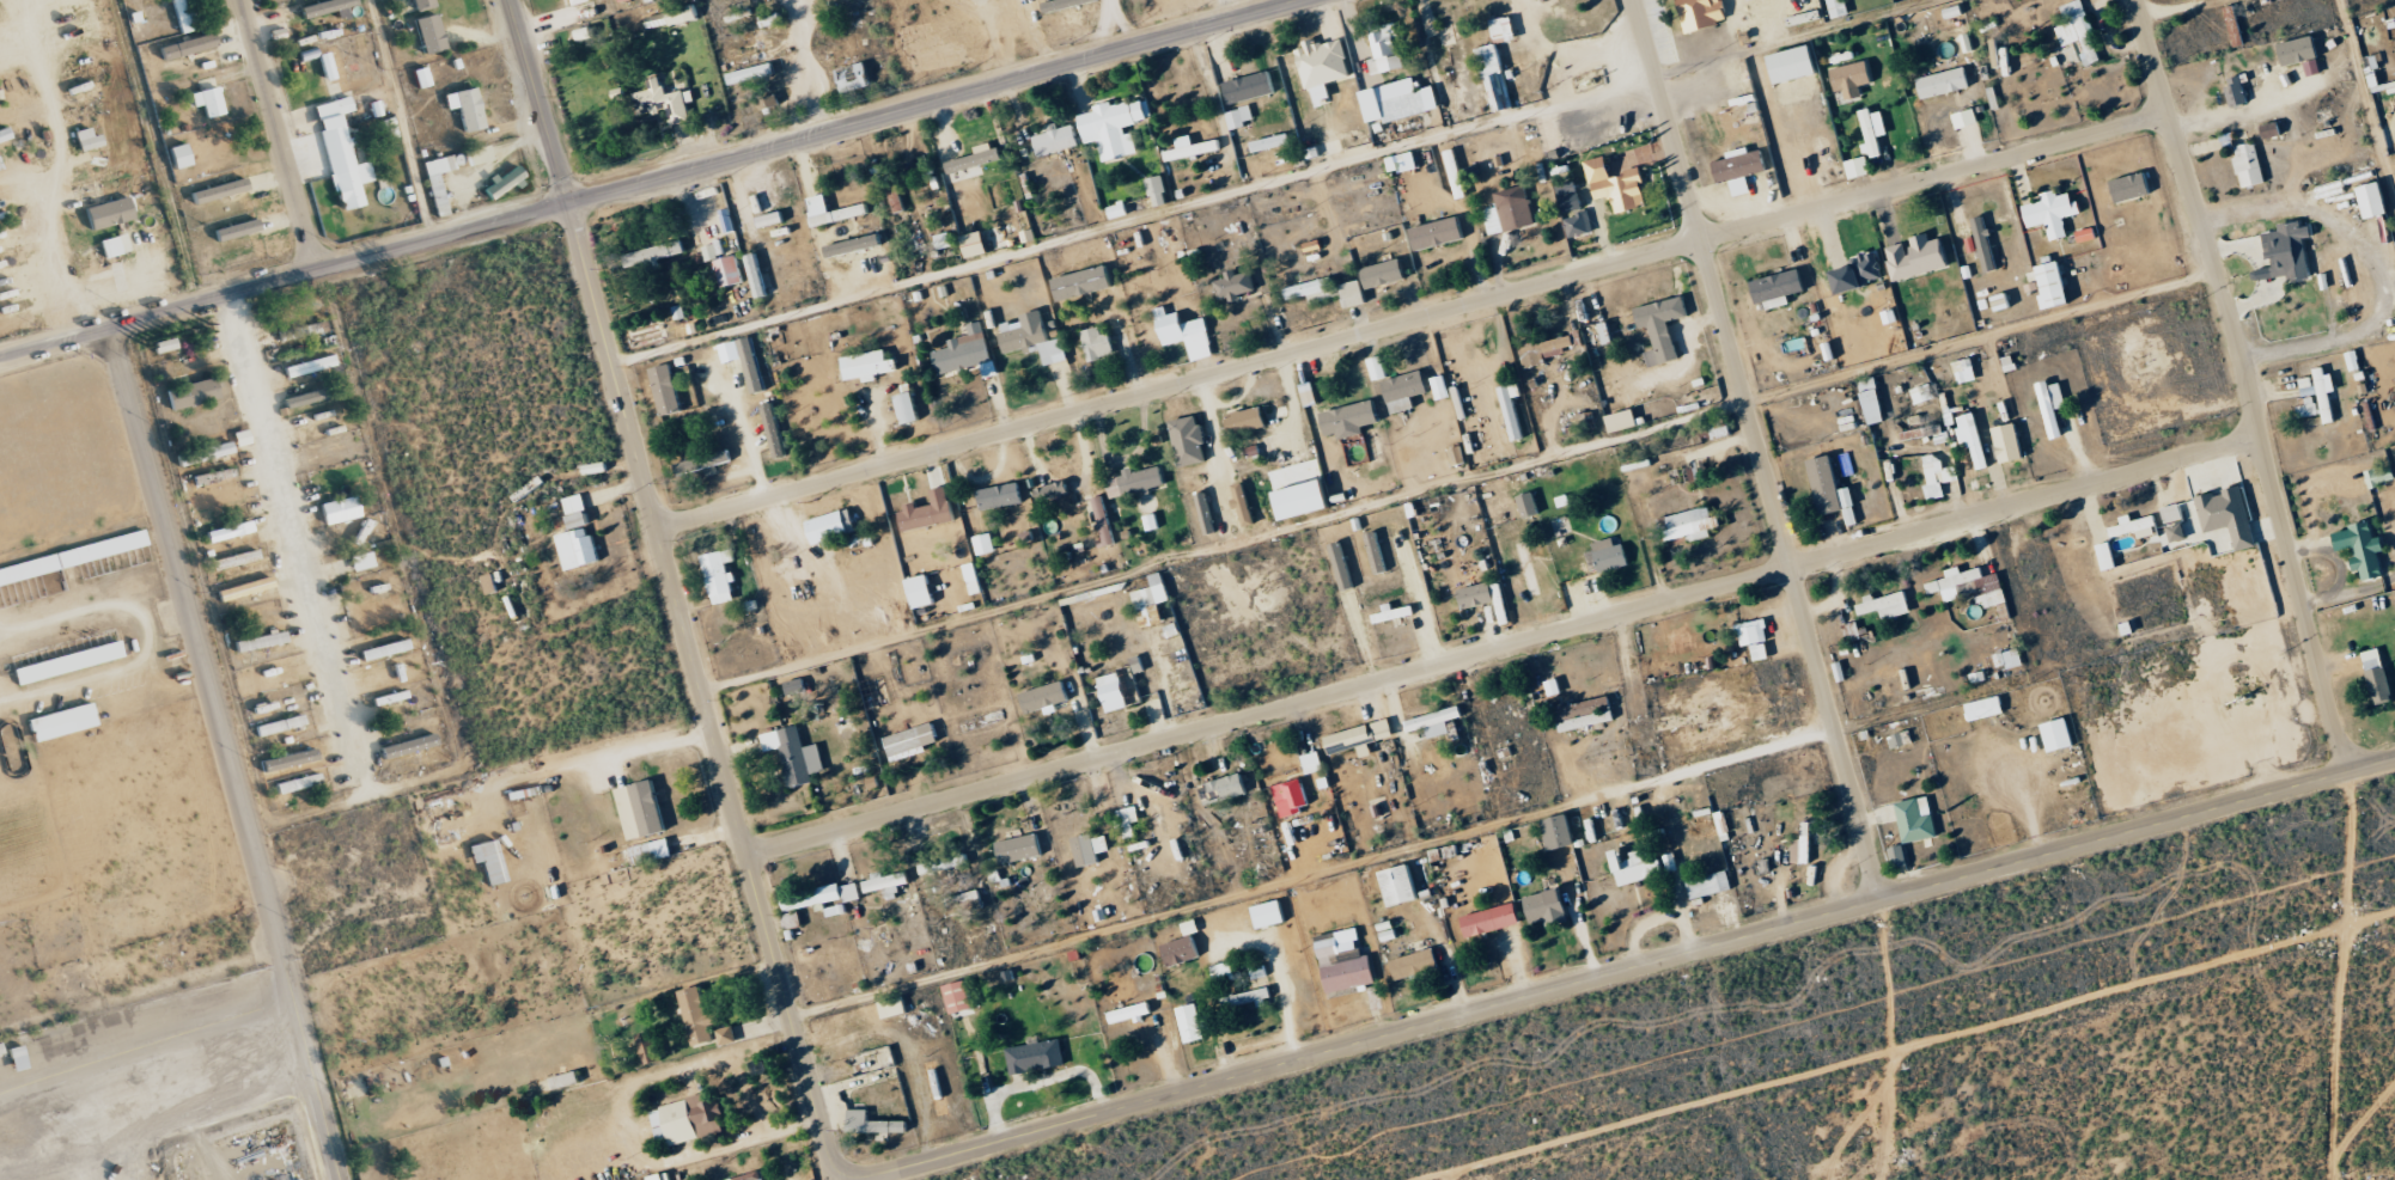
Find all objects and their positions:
building: (577, 0)
building: (1750, 0)
building: (422, 4)
building: (1066, 4)
building: (325, 6)
road: (1215, 7)
building: (1839, 8)
building: (1701, 13)
building: (183, 16)
building: (672, 17)
building: (773, 18)
building: (2229, 25)
building: (1504, 29)
building: (2079, 31)
building: (429, 33)
building: (188, 45)
building: (1385, 49)
building: (2293, 53)
road: (804, 62)
building: (1797, 63)
building: (1323, 67)
building: (337, 69)
building: (853, 77)
building: (1494, 78)
building: (1852, 79)
building: (1944, 82)
building: (1249, 87)
building: (2230, 90)
building: (208, 100)
building: (664, 100)
building: (1400, 100)
building: (467, 108)
building: (1241, 117)
building: (1966, 118)
building: (1115, 127)
building: (2263, 129)
building: (1873, 132)
building: (4, 135)
road: (276, 135)
building: (1552, 135)
building: (87, 139)
building: (1058, 139)
building: (1273, 142)
building: (1190, 148)
building: (341, 154)
building: (477, 155)
building: (976, 160)
building: (1402, 161)
building: (2243, 164)
road: (61, 167)
building: (1741, 169)
building: (1456, 171)
road: (640, 178)
building: (505, 181)
building: (1616, 185)
building: (2132, 187)
building: (219, 190)
building: (1158, 190)
building: (437, 192)
building: (1570, 196)
building: (2364, 200)
building: (833, 210)
building: (1510, 210)
building: (109, 212)
building: (2053, 212)
building: (770, 219)
building: (1578, 224)
building: (237, 230)
building: (1438, 233)
building: (944, 240)
building: (1982, 243)
building: (975, 244)
building: (114, 245)
building: (854, 245)
building: (712, 251)
building: (2284, 251)
building: (654, 253)
building: (1918, 257)
building: (729, 270)
building: (1385, 274)
building: (1858, 274)
building: (757, 275)
building: (1083, 282)
building: (1236, 285)
building: (2054, 285)
building: (1779, 288)
building: (1316, 289)
building: (1354, 293)
building: (2003, 301)
road: (1412, 322)
building: (1663, 328)
building: (1183, 329)
building: (1032, 337)
building: (1098, 343)
building: (1548, 349)
building: (752, 365)
building: (309, 366)
building: (869, 366)
building: (1377, 367)
building: (1966, 371)
road: (2247, 385)
building: (666, 390)
building: (2315, 390)
building: (1404, 391)
building: (193, 393)
building: (1922, 395)
building: (304, 398)
building: (1872, 401)
building: (2053, 405)
building: (908, 408)
building: (2303, 408)
building: (1513, 409)
building: (1351, 418)
building: (1247, 421)
building: (1622, 421)
building: (774, 430)
building: (1972, 436)
building: (1189, 441)
building: (2009, 442)
road: (1757, 451)
building: (205, 453)
building: (702, 461)
building: (1938, 476)
building: (2381, 476)
building: (1138, 481)
building: (1053, 490)
building: (1833, 490)
building: (215, 496)
building: (1000, 496)
building: (1304, 500)
building: (1244, 503)
building: (1529, 505)
building: (340, 509)
building: (930, 512)
building: (1206, 513)
building: (2171, 513)
building: (2229, 515)
building: (1104, 521)
building: (1690, 525)
building: (833, 526)
building: (2135, 526)
building: (230, 531)
building: (2177, 532)
building: (578, 536)
road: (298, 540)
building: (985, 544)
building: (2363, 550)
building: (1377, 552)
building: (1610, 555)
building: (72, 556)
building: (2108, 556)
building: (234, 560)
building: (361, 561)
building: (1342, 565)
building: (1529, 569)
road: (666, 571)
building: (720, 576)
building: (974, 579)
building: (1970, 587)
building: (245, 588)
building: (921, 591)
building: (1479, 595)
building: (1152, 600)
building: (1888, 605)
building: (1395, 613)
building: (380, 620)
road: (191, 629)
building: (1755, 638)
building: (260, 642)
building: (1682, 642)
road: (1503, 646)
building: (385, 649)
building: (2009, 659)
building: (2372, 659)
building: (68, 662)
building: (2381, 685)
building: (794, 686)
building: (1113, 692)
building: (390, 697)
building: (1044, 697)
building: (1985, 708)
building: (1585, 714)
building: (62, 722)
building: (1436, 722)
building: (280, 724)
building: (2059, 735)
building: (1351, 739)
building: (1901, 739)
building: (912, 742)
building: (408, 746)
building: (794, 754)
building: (1314, 763)
road: (567, 764)
building: (298, 783)
building: (1224, 789)
building: (1292, 797)
building: (642, 809)
building: (1916, 820)
building: (1129, 821)
building: (1560, 832)
building: (1803, 846)
building: (1019, 849)
building: (1090, 850)
building: (652, 851)
building: (1899, 857)
building: (490, 862)
building: (944, 864)
building: (1637, 867)
building: (886, 884)
building: (1710, 885)
building: (822, 897)
building: (964, 903)
building: (1548, 907)
building: (835, 910)
building: (1269, 915)
building: (792, 921)
building: (1492, 921)
building: (1181, 952)
building: (1415, 964)
building: (1342, 966)
road: (279, 967)
building: (1223, 972)
building: (1259, 972)
road: (1602, 978)
building: (959, 997)
building: (1249, 998)
building: (892, 1008)
building: (1131, 1013)
building: (699, 1016)
building: (1195, 1023)
building: (727, 1035)
road: (142, 1047)
building: (650, 1048)
building: (1035, 1057)
road: (309, 1092)
building: (690, 1120)
road: (621, 1124)
building: (873, 1124)
building: (662, 1176)
road: (841, 1176)

